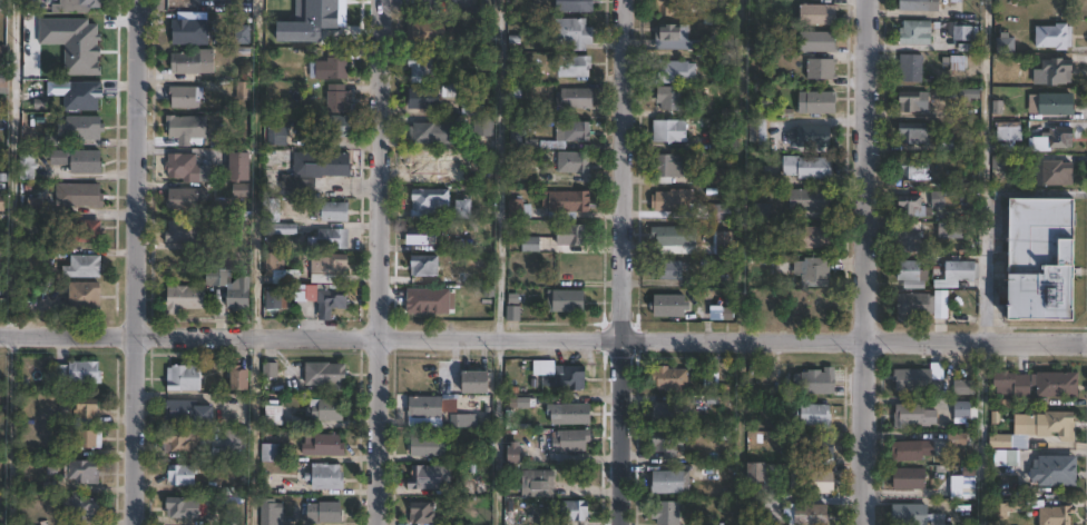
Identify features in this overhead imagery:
building: (2, 6)
building: (75, 6)
building: (574, 6)
building: (915, 6)
building: (664, 7)
building: (816, 13)
building: (190, 30)
building: (424, 31)
building: (673, 31)
building: (572, 32)
building: (912, 33)
building: (961, 36)
building: (1050, 38)
building: (817, 40)
building: (1003, 44)
building: (728, 57)
building: (3, 61)
building: (193, 61)
building: (335, 63)
building: (907, 63)
building: (571, 66)
building: (419, 68)
building: (820, 68)
building: (511, 70)
building: (675, 71)
building: (1052, 72)
building: (450, 91)
building: (512, 91)
building: (82, 96)
building: (967, 96)
building: (184, 97)
building: (667, 97)
building: (422, 98)
building: (574, 98)
building: (336, 99)
building: (816, 101)
building: (911, 101)
building: (1048, 105)
building: (334, 125)
building: (90, 128)
building: (186, 128)
building: (483, 128)
building: (670, 129)
building: (757, 129)
building: (572, 131)
building: (432, 133)
building: (276, 135)
building: (518, 135)
building: (913, 135)
building: (810, 136)
building: (1005, 136)
building: (1056, 139)
building: (718, 142)
building: (948, 143)
building: (78, 160)
building: (572, 162)
building: (1000, 162)
building: (427, 164)
building: (239, 166)
building: (805, 166)
building: (28, 167)
building: (183, 167)
building: (664, 167)
road: (500, 169)
building: (314, 170)
building: (912, 171)
road: (985, 171)
building: (1050, 174)
building: (719, 176)
building: (756, 177)
building: (82, 196)
building: (185, 198)
building: (810, 198)
building: (940, 198)
building: (430, 199)
building: (672, 199)
building: (2, 202)
building: (564, 204)
building: (913, 208)
building: (462, 209)
building: (517, 209)
building: (272, 210)
building: (331, 210)
building: (719, 211)
building: (280, 229)
building: (182, 231)
building: (951, 231)
building: (86, 232)
building: (420, 235)
building: (673, 235)
building: (814, 237)
building: (332, 238)
building: (568, 238)
building: (910, 238)
building: (721, 241)
building: (529, 244)
building: (1039, 260)
road: (135, 261)
road: (624, 261)
road: (384, 262)
road: (863, 262)
building: (423, 266)
building: (85, 268)
building: (280, 268)
building: (330, 268)
building: (667, 269)
building: (810, 269)
building: (956, 273)
building: (911, 276)
building: (216, 277)
building: (239, 295)
building: (85, 296)
building: (274, 297)
building: (183, 298)
building: (327, 298)
building: (423, 300)
building: (452, 300)
building: (564, 300)
building: (668, 305)
building: (512, 306)
building: (939, 306)
building: (911, 307)
road: (543, 338)
building: (78, 372)
building: (327, 374)
building: (242, 376)
building: (567, 376)
building: (185, 377)
building: (672, 377)
building: (817, 379)
building: (917, 379)
building: (478, 380)
building: (713, 380)
building: (1040, 384)
building: (961, 387)
building: (80, 405)
building: (239, 406)
building: (766, 407)
building: (329, 408)
building: (961, 408)
building: (189, 410)
building: (275, 410)
building: (430, 410)
building: (669, 413)
building: (574, 414)
building: (814, 415)
building: (915, 415)
building: (464, 420)
road: (10, 429)
road: (497, 430)
building: (1038, 430)
road: (981, 433)
building: (91, 438)
building: (960, 439)
building: (183, 440)
building: (574, 440)
building: (234, 444)
building: (324, 444)
building: (429, 446)
building: (670, 446)
building: (820, 446)
building: (910, 449)
building: (272, 452)
building: (516, 453)
building: (757, 466)
building: (1058, 469)
building: (82, 470)
building: (184, 474)
building: (327, 476)
building: (431, 476)
building: (912, 477)
building: (670, 481)
building: (812, 481)
building: (538, 482)
building: (962, 483)
building: (81, 507)
building: (179, 507)
building: (574, 509)
building: (271, 511)
building: (325, 512)
building: (423, 512)
building: (669, 512)
building: (1058, 512)
building: (810, 514)
building: (912, 514)

